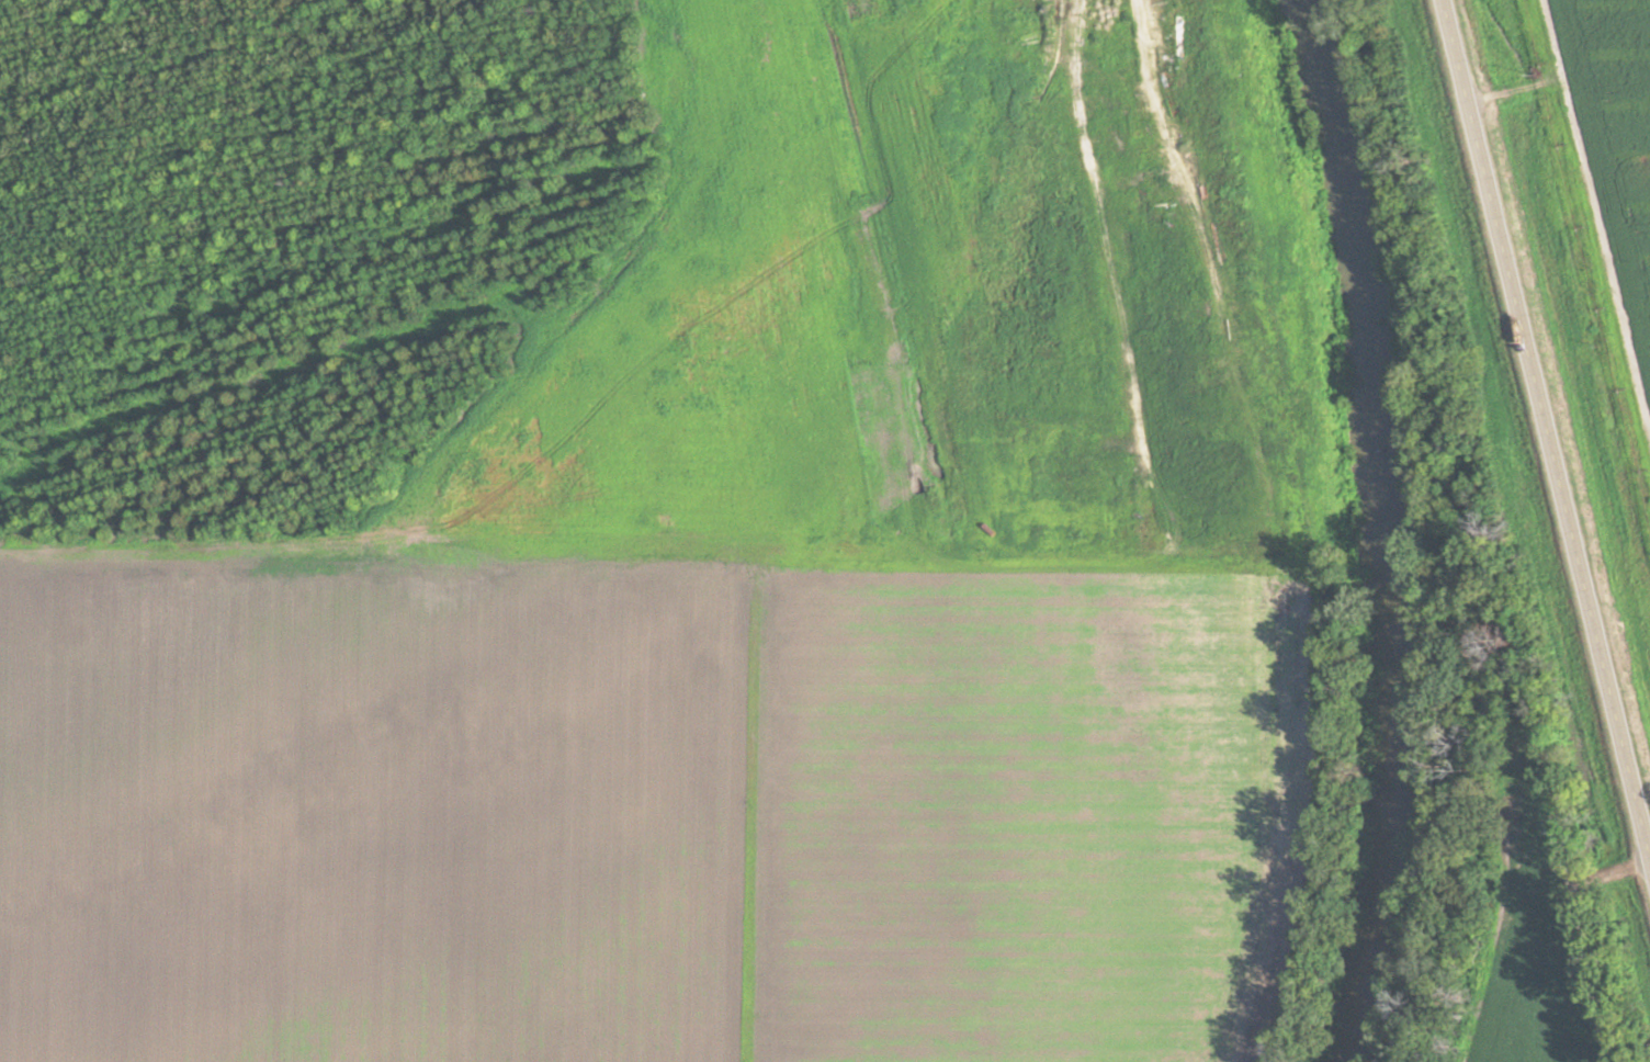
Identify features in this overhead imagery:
building: (1179, 7)
road: (1548, 411)
river: (1400, 529)

